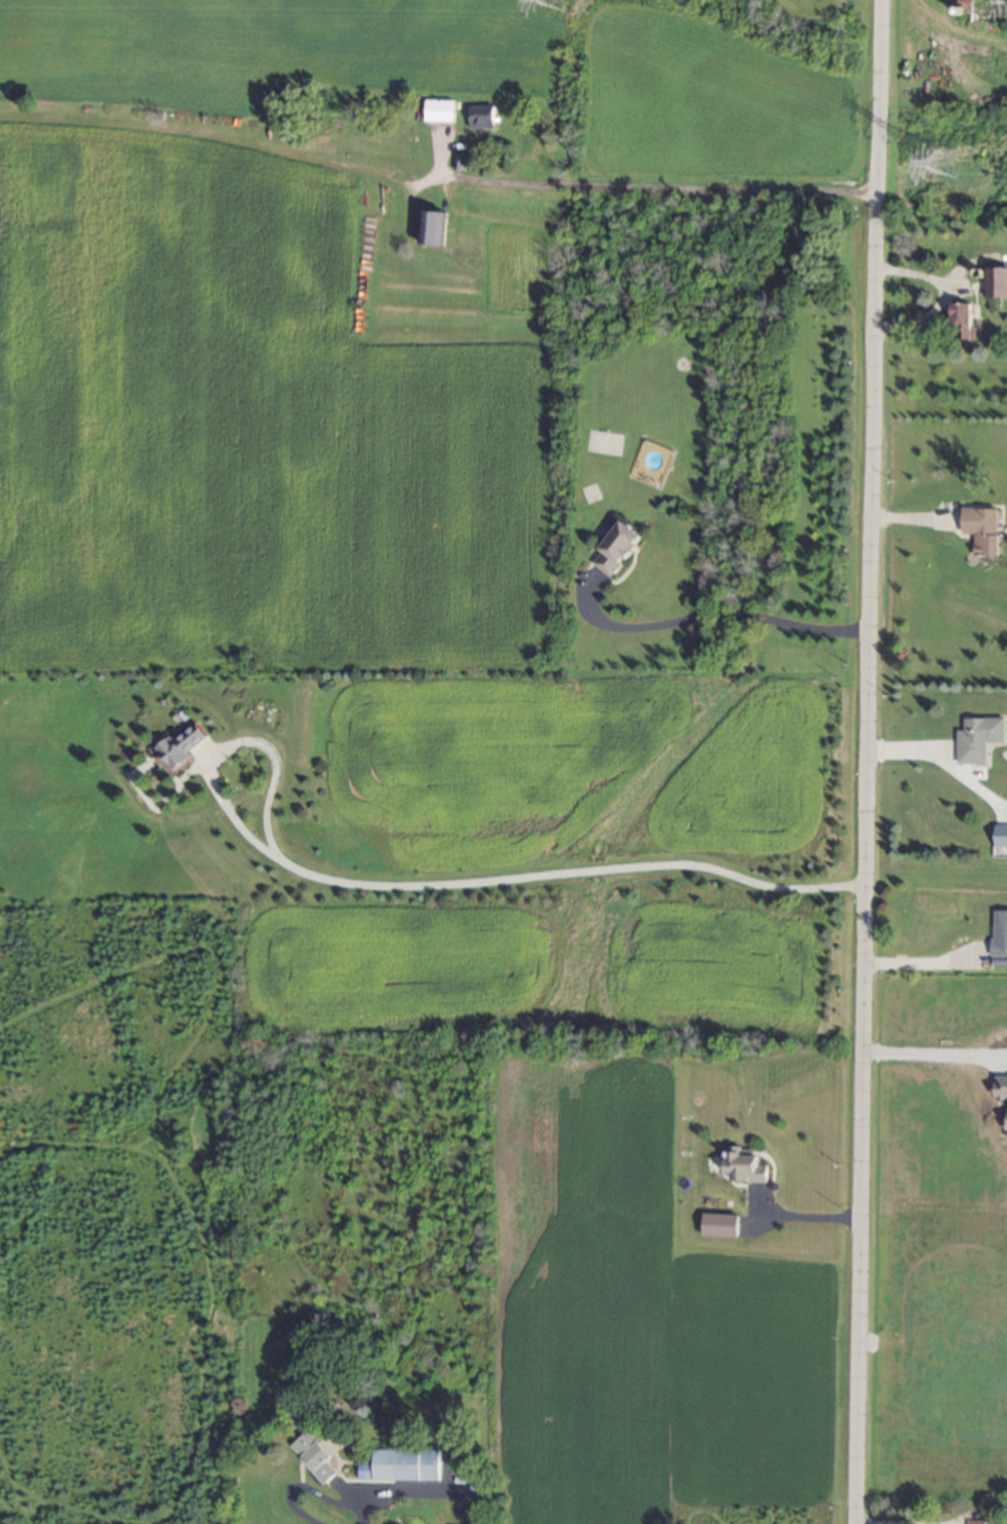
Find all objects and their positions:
power tower: (546, 5)
road: (955, 29)
building: (438, 111)
building: (481, 117)
building: (457, 162)
power tower: (940, 173)
road: (655, 191)
building: (432, 228)
building: (996, 282)
building: (962, 323)
crop: (329, 387)
building: (982, 530)
building: (616, 549)
road: (718, 617)
building: (977, 739)
building: (179, 747)
road: (866, 762)
building: (1000, 836)
road: (412, 889)
building: (999, 934)
road: (925, 965)
crop: (942, 1008)
road: (926, 1053)
building: (1000, 1087)
building: (1006, 1126)
building: (745, 1166)
road: (810, 1220)
building: (719, 1226)
crop: (936, 1300)
crop: (638, 1315)
building: (313, 1457)
building: (400, 1466)
road: (363, 1512)
building: (976, 1522)

